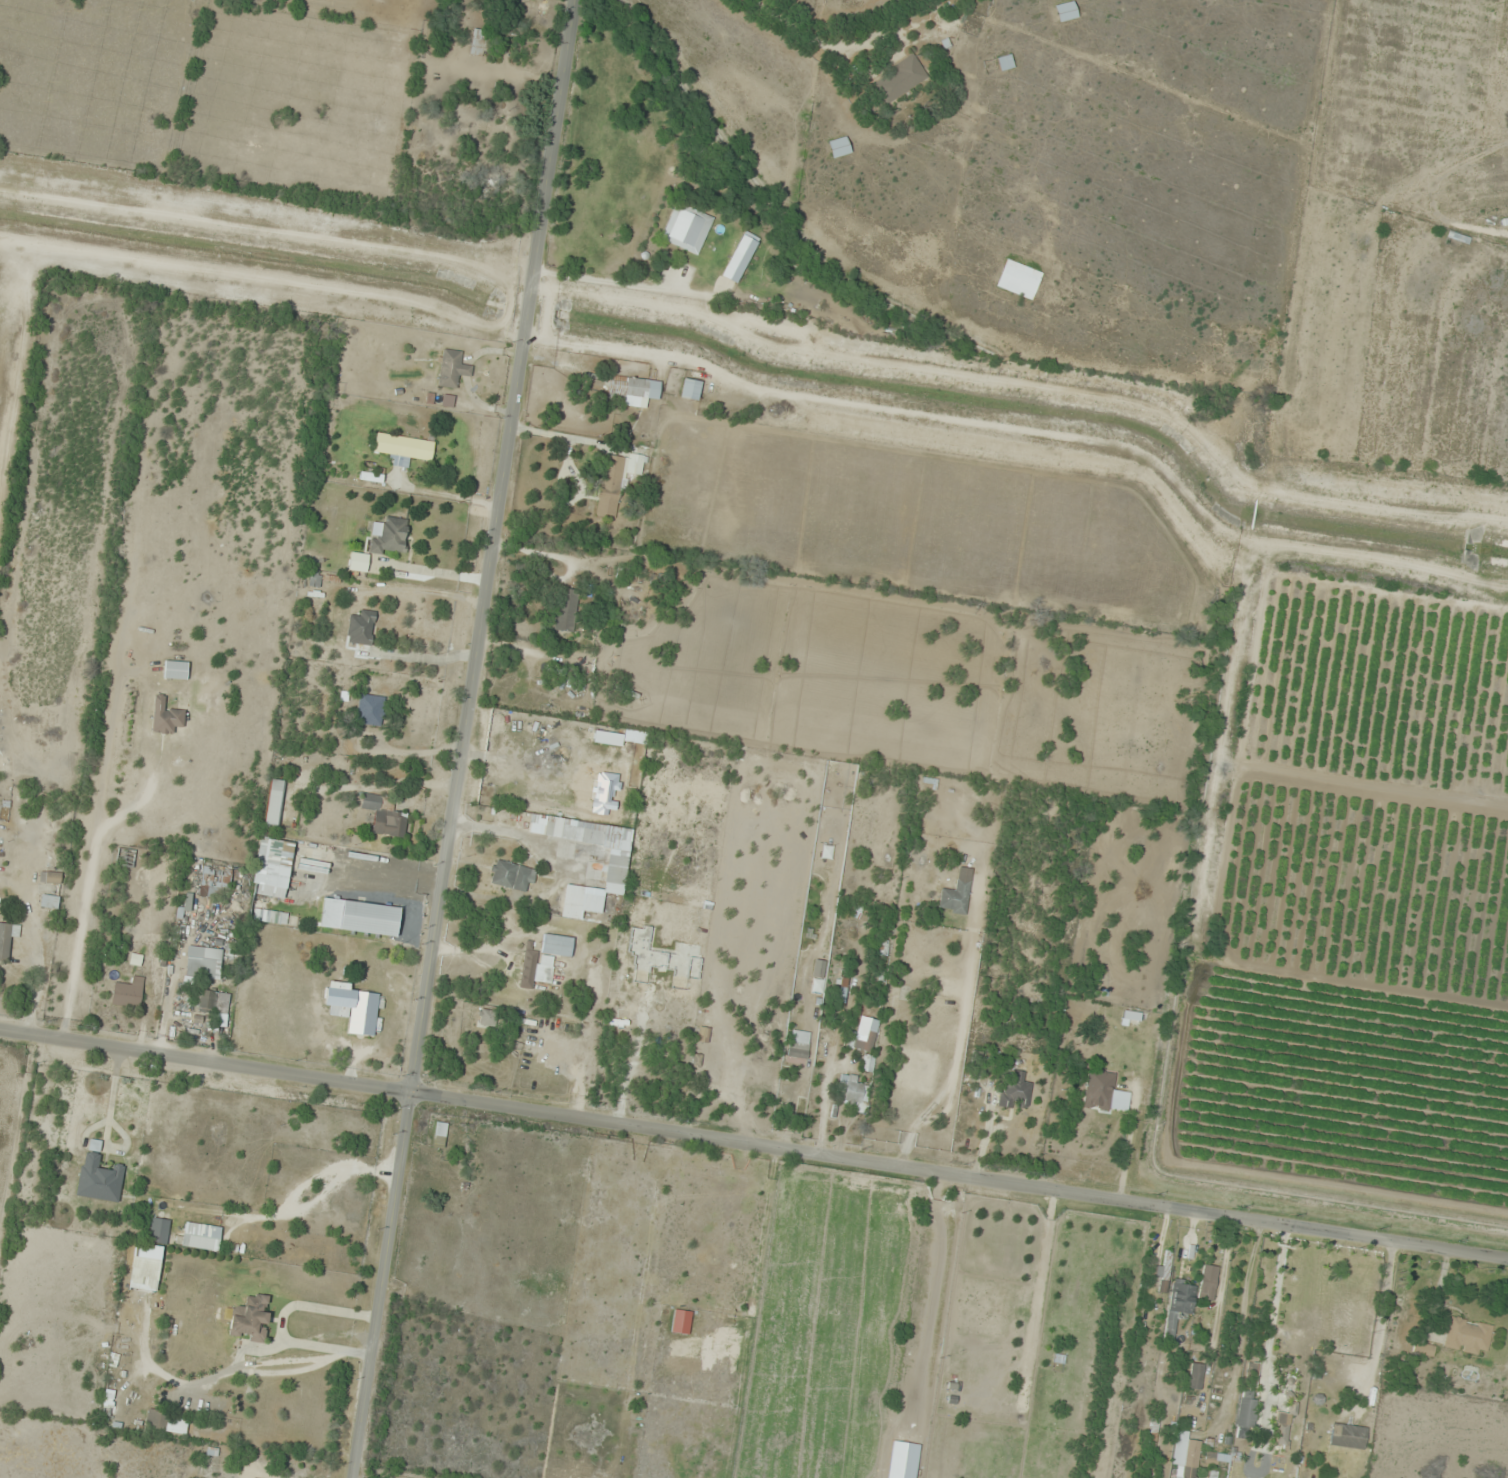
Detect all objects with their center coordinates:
building: (1066, 11)
building: (478, 43)
building: (1005, 62)
building: (900, 79)
building: (839, 146)
road: (695, 226)
building: (687, 227)
building: (1019, 279)
building: (453, 369)
building: (632, 389)
building: (690, 389)
building: (404, 448)
building: (371, 476)
building: (616, 481)
building: (389, 536)
building: (315, 580)
building: (566, 610)
building: (361, 628)
building: (175, 670)
building: (370, 709)
building: (165, 716)
road: (461, 739)
building: (274, 803)
building: (384, 816)
building: (125, 858)
building: (273, 863)
building: (616, 864)
building: (512, 876)
building: (50, 877)
building: (214, 882)
building: (957, 893)
building: (49, 901)
building: (368, 918)
building: (5, 941)
building: (557, 945)
building: (203, 962)
building: (841, 990)
building: (128, 993)
building: (210, 1000)
building: (356, 1008)
building: (487, 1018)
building: (829, 1021)
building: (865, 1040)
building: (798, 1048)
building: (822, 1052)
building: (868, 1063)
building: (716, 1065)
building: (1099, 1089)
building: (853, 1092)
building: (1015, 1092)
road: (1376, 1115)
road: (753, 1145)
building: (98, 1179)
building: (457, 1190)
building: (159, 1230)
building: (200, 1236)
building: (145, 1267)
building: (1208, 1282)
building: (1179, 1305)
building: (250, 1318)
road: (1074, 1337)
building: (1468, 1337)
building: (1195, 1376)
building: (1246, 1418)
building: (166, 1422)
building: (1283, 1428)
building: (1348, 1436)
building: (1189, 1459)
building: (1217, 1459)
building: (251, 1477)

